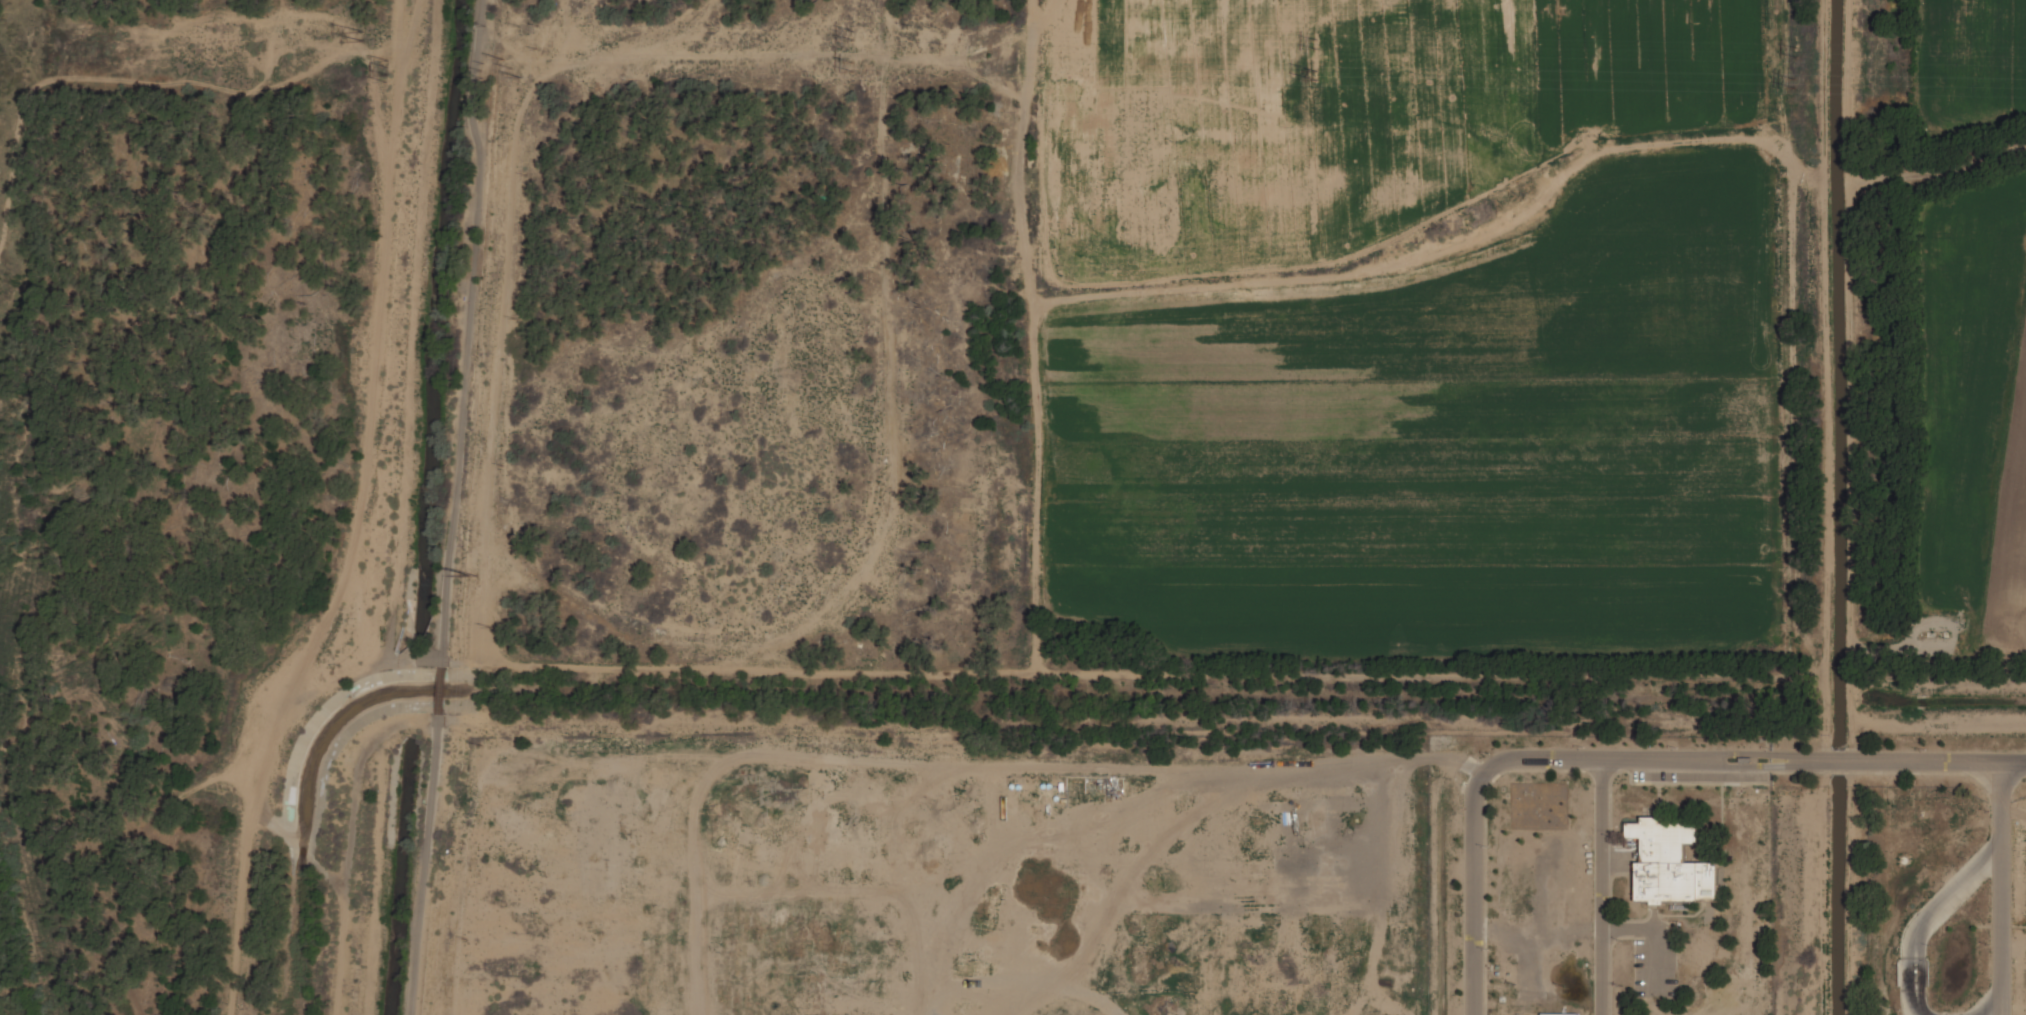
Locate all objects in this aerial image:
power tower: (361, 32)
power tower: (851, 32)
power tower: (1304, 38)
power tower: (1788, 48)
power tower: (853, 66)
power tower: (378, 67)
power tower: (514, 75)
power tower: (1316, 79)
power tower: (1784, 86)
crop: (1971, 326)
road: (467, 332)
crop: (1406, 333)
road: (132, 515)
road: (353, 515)
road: (443, 691)
road: (1618, 759)
road: (206, 782)
building: (1670, 862)
road: (427, 865)
wastewater plant: (1601, 874)
road: (2004, 874)
building: (1528, 879)
road: (1925, 918)
road: (136, 975)
road: (1990, 1004)
building: (1519, 1013)
building: (1561, 1013)

